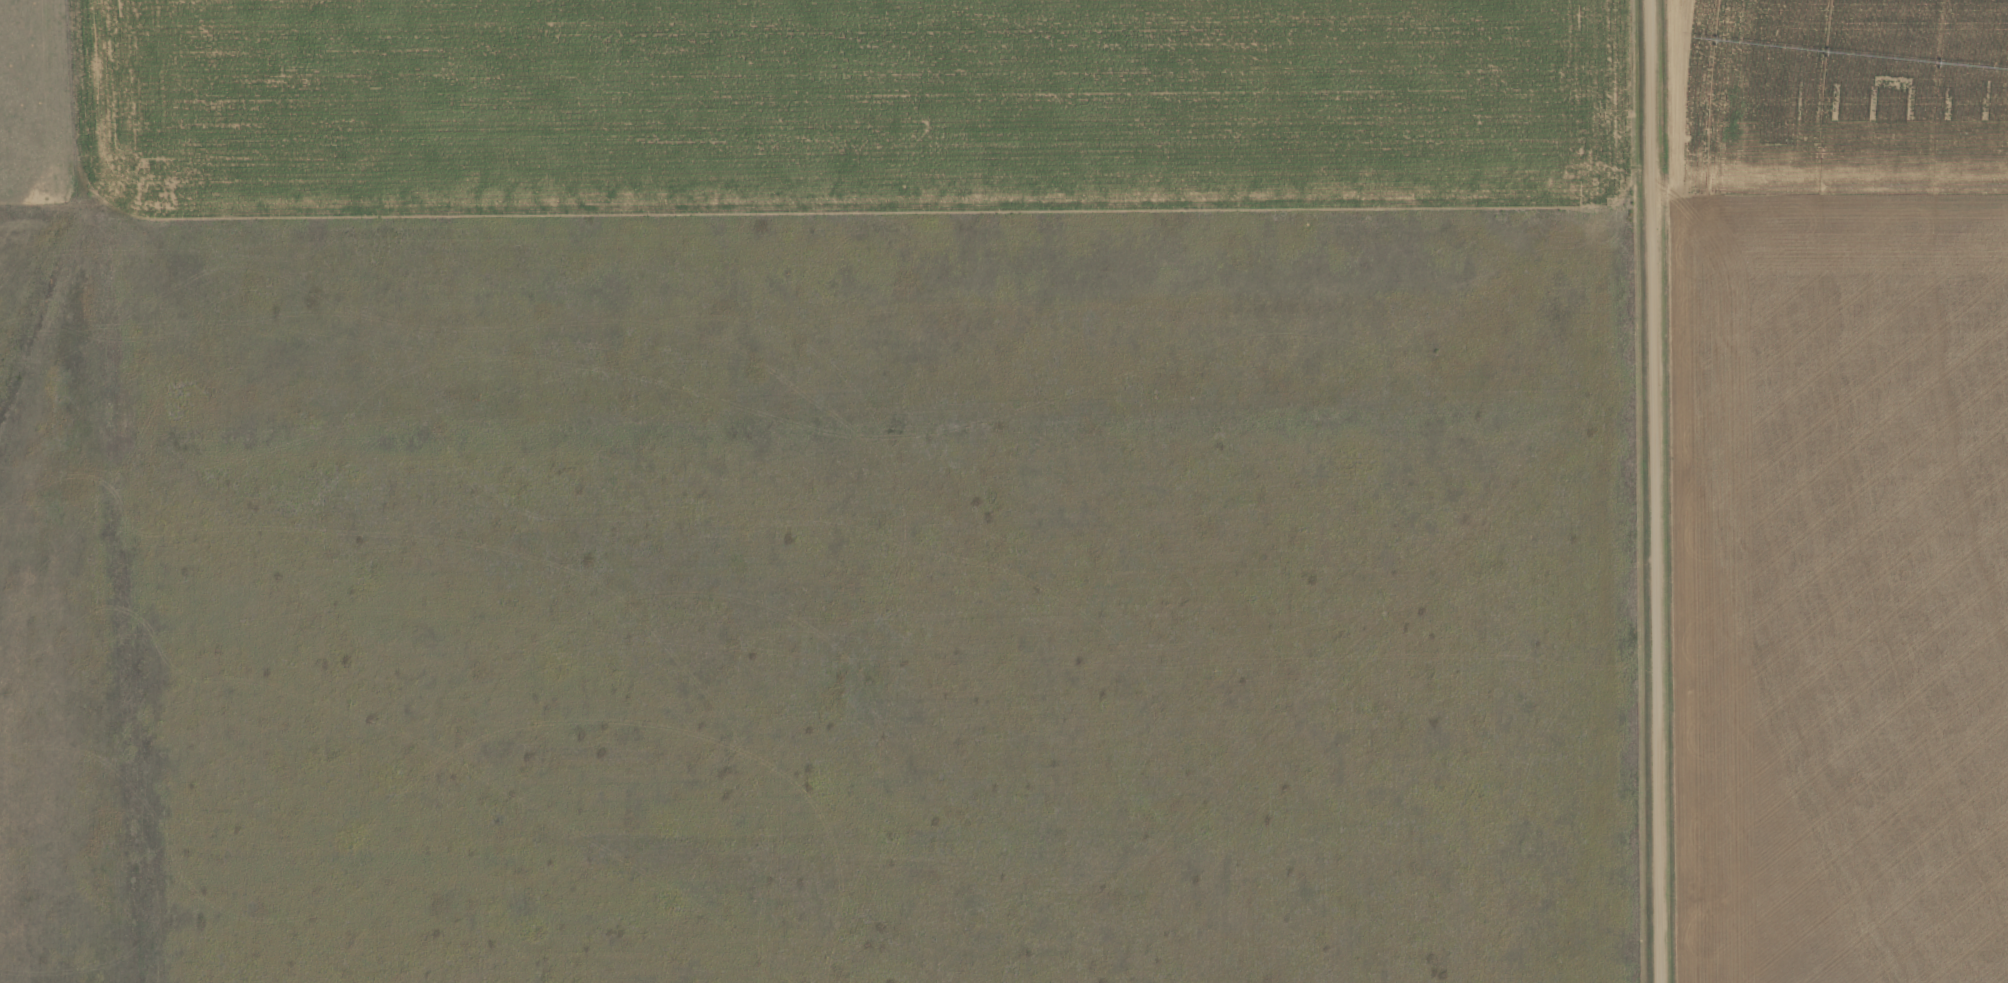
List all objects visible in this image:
road: (1655, 491)

